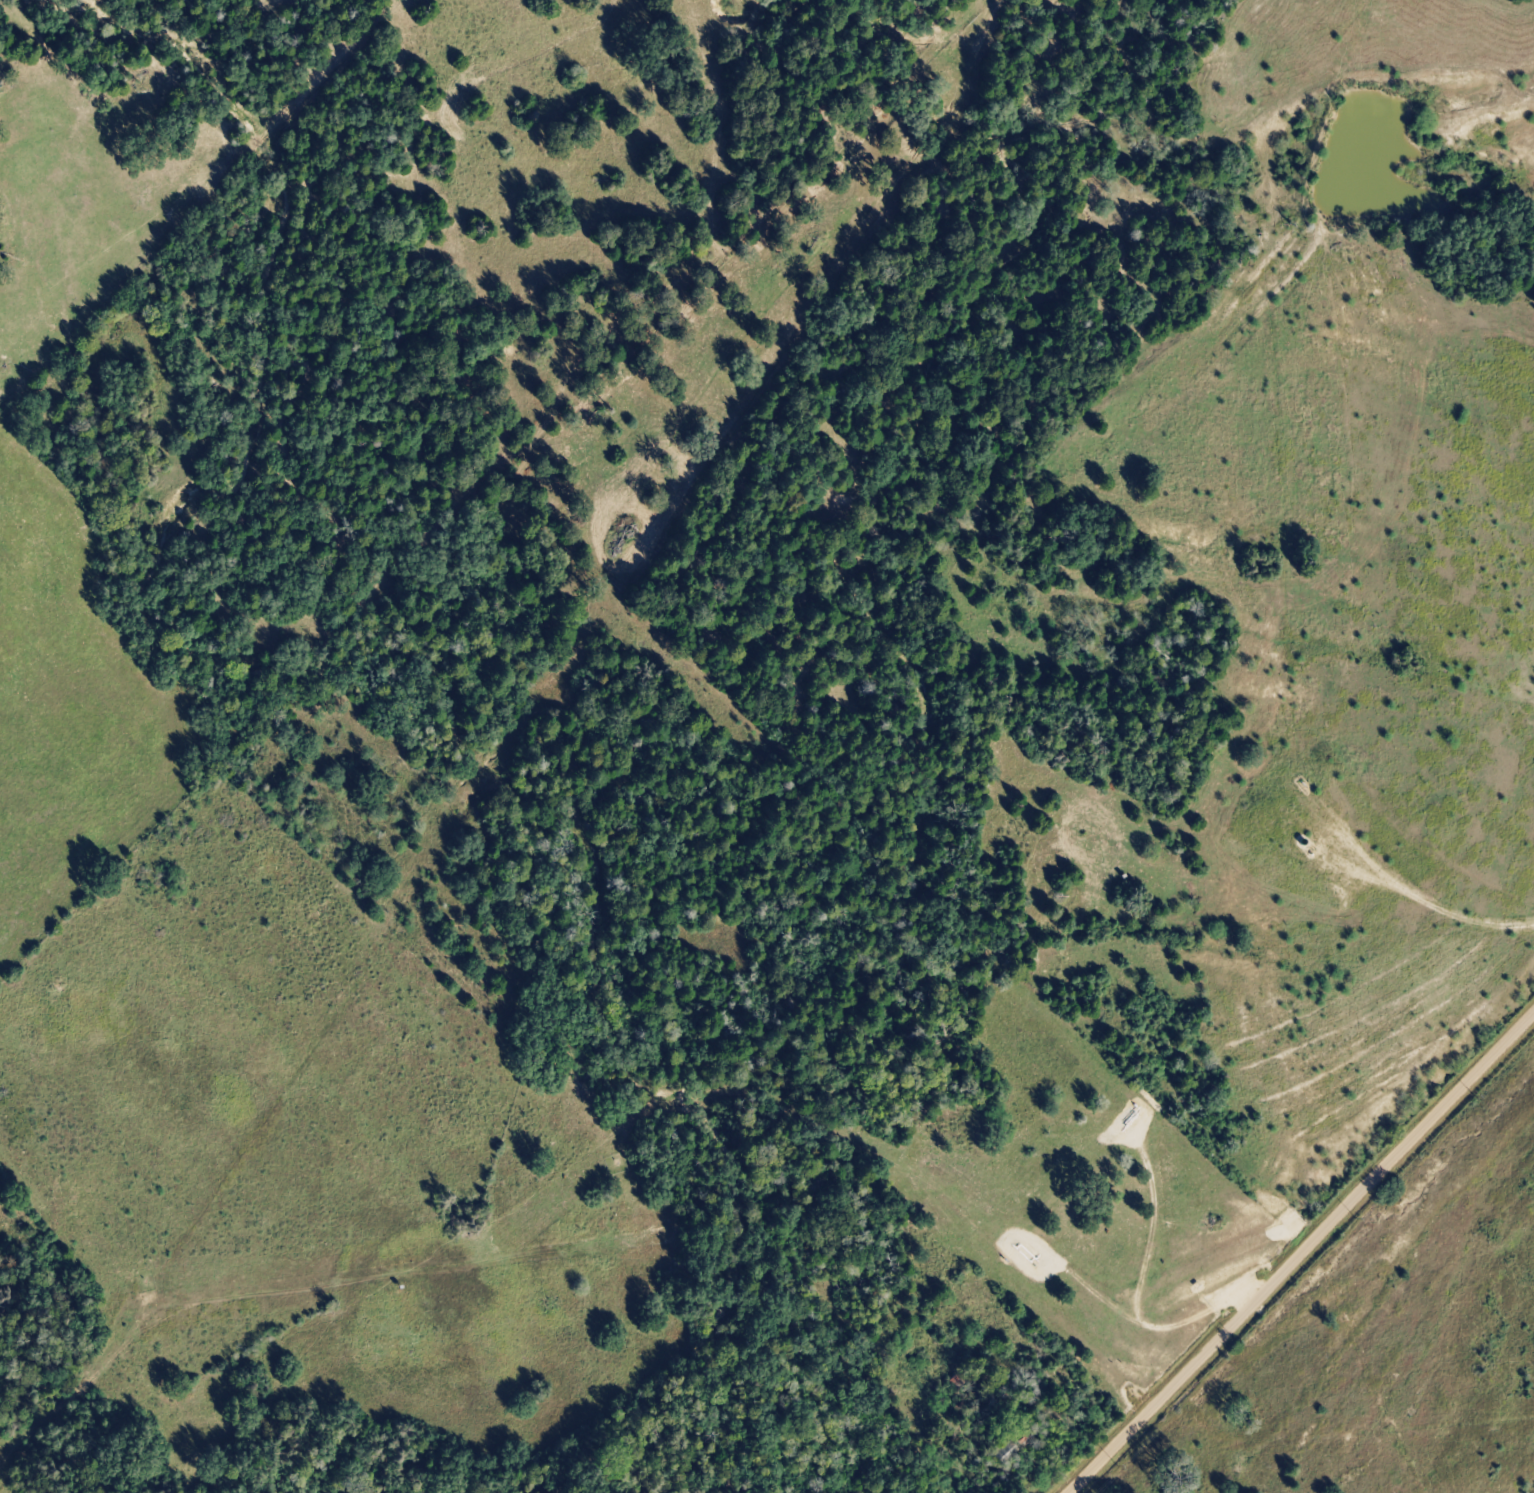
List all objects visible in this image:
road: (1301, 1253)

